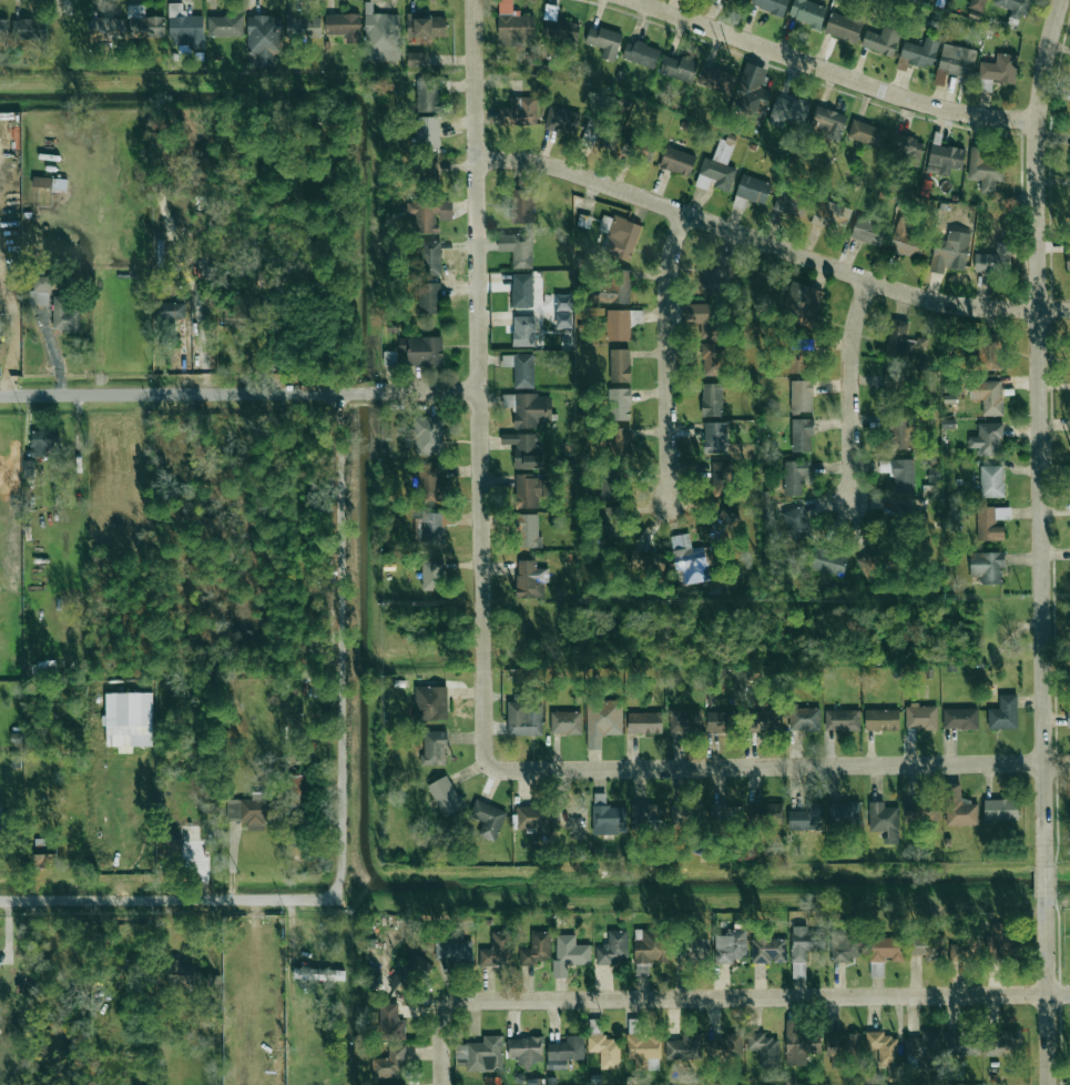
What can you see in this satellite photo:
building: (742, 1)
building: (977, 4)
building: (772, 6)
building: (1015, 8)
building: (807, 12)
building: (514, 24)
building: (560, 24)
building: (128, 26)
building: (225, 26)
building: (344, 26)
building: (426, 26)
building: (303, 27)
building: (185, 28)
building: (843, 28)
building: (3, 29)
building: (30, 29)
building: (381, 37)
building: (264, 38)
building: (604, 41)
building: (882, 41)
building: (641, 53)
building: (918, 54)
building: (416, 59)
building: (955, 62)
building: (998, 71)
building: (693, 72)
road: (833, 72)
building: (752, 90)
building: (427, 95)
building: (520, 111)
building: (788, 111)
building: (562, 121)
building: (827, 122)
building: (428, 132)
building: (866, 133)
building: (605, 140)
building: (908, 149)
building: (645, 151)
building: (945, 159)
building: (677, 161)
building: (1069, 165)
building: (985, 169)
building: (716, 170)
building: (428, 172)
building: (49, 182)
building: (753, 190)
building: (792, 203)
building: (522, 206)
building: (429, 214)
building: (832, 216)
building: (868, 232)
building: (620, 236)
building: (906, 237)
road: (770, 245)
building: (517, 249)
building: (951, 253)
building: (1068, 255)
building: (430, 258)
building: (995, 258)
building: (722, 270)
building: (268, 280)
building: (616, 288)
building: (522, 291)
building: (40, 292)
building: (428, 297)
building: (802, 302)
building: (169, 312)
building: (699, 313)
building: (65, 314)
building: (233, 318)
building: (563, 320)
building: (618, 325)
building: (523, 331)
road: (14, 332)
building: (901, 342)
building: (421, 351)
road: (53, 353)
building: (989, 353)
building: (389, 357)
road: (665, 357)
building: (799, 357)
building: (711, 359)
road: (183, 361)
building: (620, 365)
building: (521, 369)
building: (895, 383)
road: (848, 388)
road: (240, 393)
road: (479, 394)
building: (802, 396)
building: (987, 396)
building: (712, 399)
building: (619, 404)
building: (529, 409)
building: (898, 430)
road: (1040, 430)
building: (428, 435)
building: (802, 435)
building: (715, 437)
building: (988, 439)
building: (619, 440)
building: (40, 443)
building: (523, 449)
building: (28, 468)
building: (899, 474)
building: (721, 477)
building: (794, 477)
building: (429, 481)
building: (991, 481)
building: (611, 484)
building: (546, 487)
building: (527, 491)
building: (991, 523)
building: (613, 524)
building: (797, 524)
building: (429, 527)
building: (528, 530)
building: (689, 560)
building: (646, 561)
building: (829, 561)
building: (874, 564)
building: (987, 567)
building: (431, 575)
building: (530, 580)
road: (347, 645)
building: (431, 702)
building: (1003, 713)
building: (524, 717)
building: (920, 717)
building: (959, 718)
building: (1068, 718)
building: (804, 719)
building: (882, 719)
building: (128, 720)
building: (602, 720)
building: (684, 720)
building: (764, 720)
building: (842, 720)
building: (719, 721)
building: (565, 722)
building: (644, 723)
building: (432, 746)
road: (792, 765)
building: (298, 790)
building: (445, 795)
building: (959, 807)
building: (251, 809)
building: (1000, 809)
building: (765, 812)
building: (923, 812)
building: (648, 813)
building: (844, 813)
building: (1069, 814)
building: (605, 815)
building: (725, 815)
building: (529, 817)
building: (806, 818)
building: (487, 819)
building: (884, 820)
building: (1, 824)
building: (173, 849)
building: (43, 860)
road: (1044, 882)
road: (171, 899)
building: (995, 936)
building: (804, 942)
building: (845, 944)
building: (730, 945)
road: (1044, 945)
building: (613, 947)
building: (649, 947)
building: (923, 947)
building: (452, 949)
building: (497, 949)
building: (536, 949)
building: (696, 949)
building: (885, 949)
building: (768, 950)
building: (958, 951)
building: (569, 953)
building: (370, 973)
building: (407, 973)
building: (318, 974)
road: (1058, 993)
road: (734, 996)
building: (389, 1023)
road: (1047, 1040)
building: (1001, 1042)
building: (798, 1043)
building: (724, 1045)
building: (684, 1046)
building: (842, 1046)
building: (763, 1047)
building: (604, 1049)
building: (643, 1049)
building: (884, 1049)
building: (524, 1051)
building: (561, 1052)
building: (481, 1054)
road: (445, 1056)
building: (388, 1062)
building: (391, 1084)

